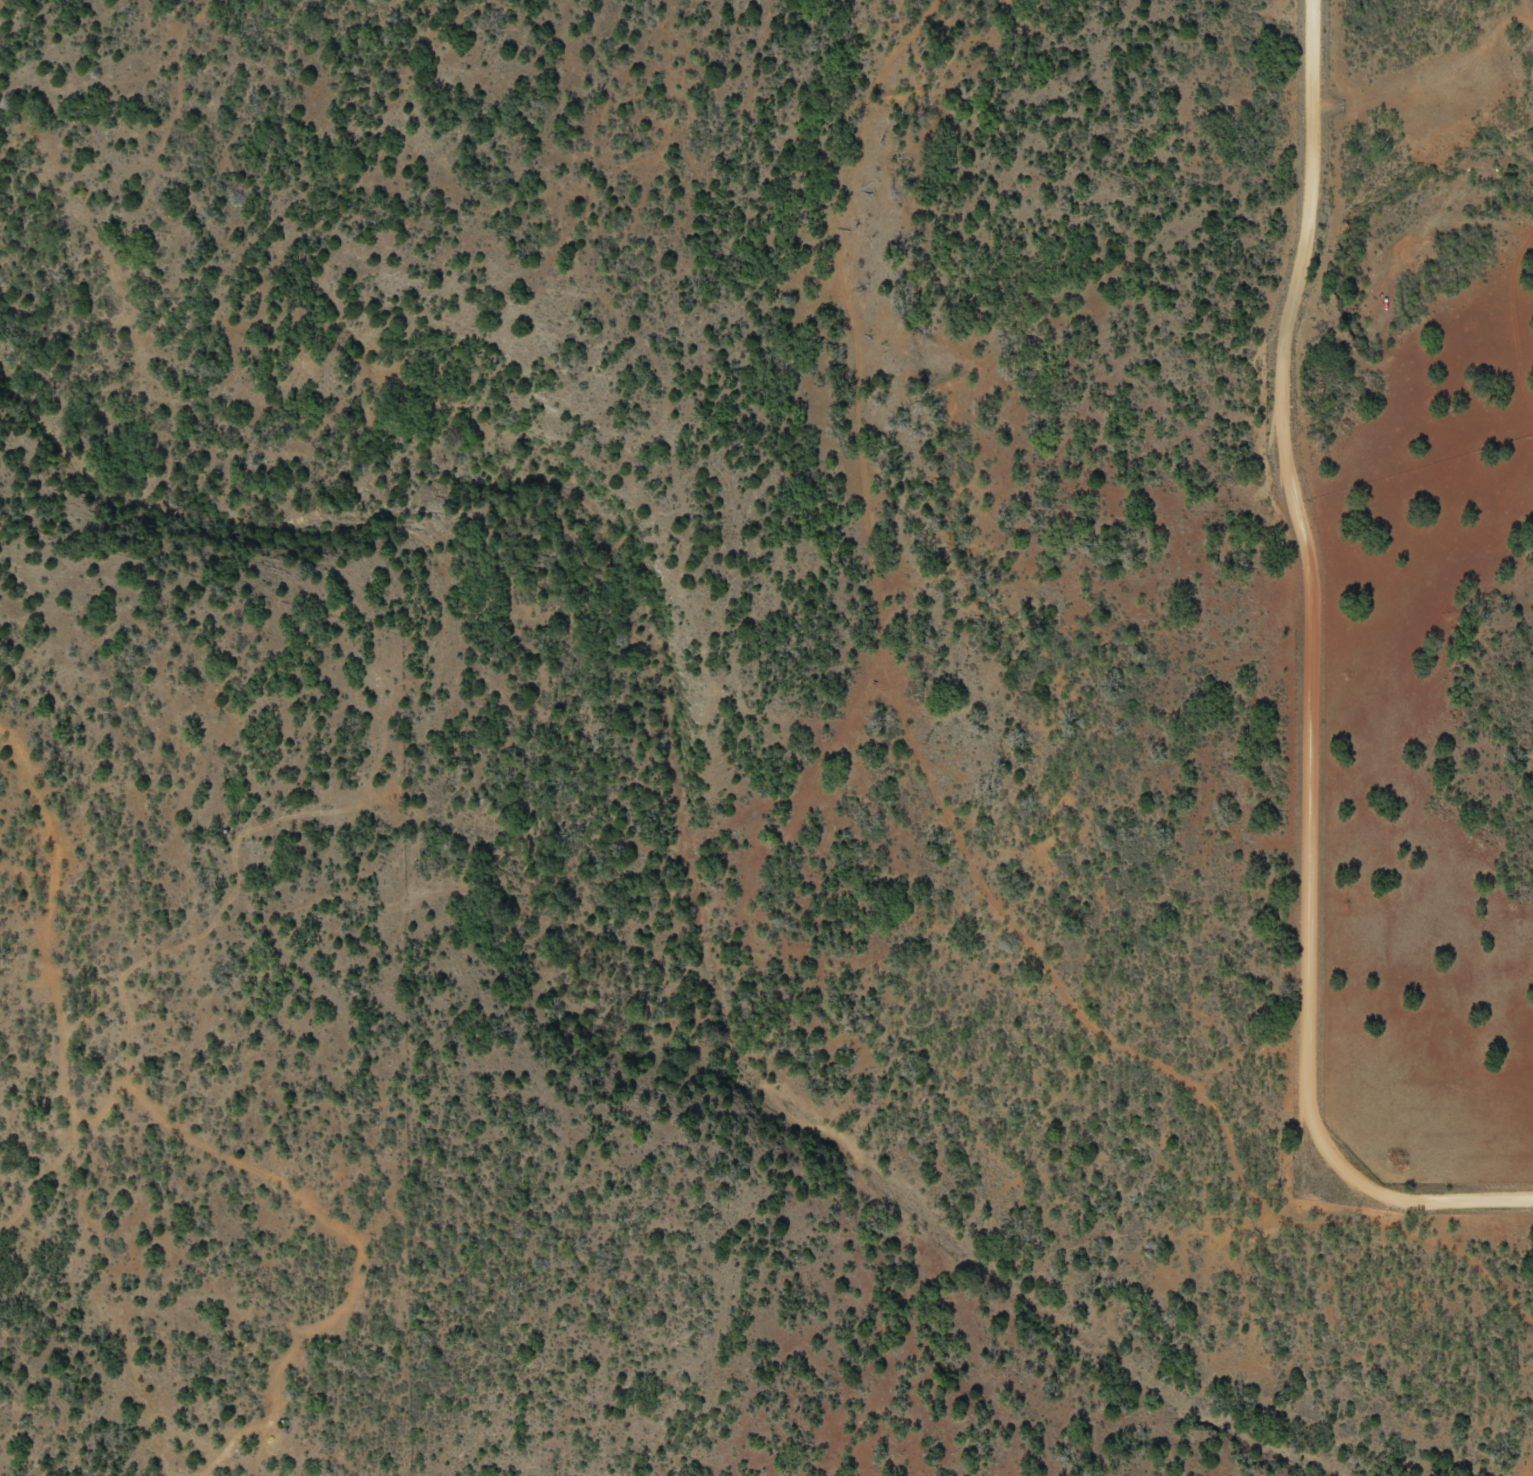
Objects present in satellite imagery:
road: (1321, 668)

